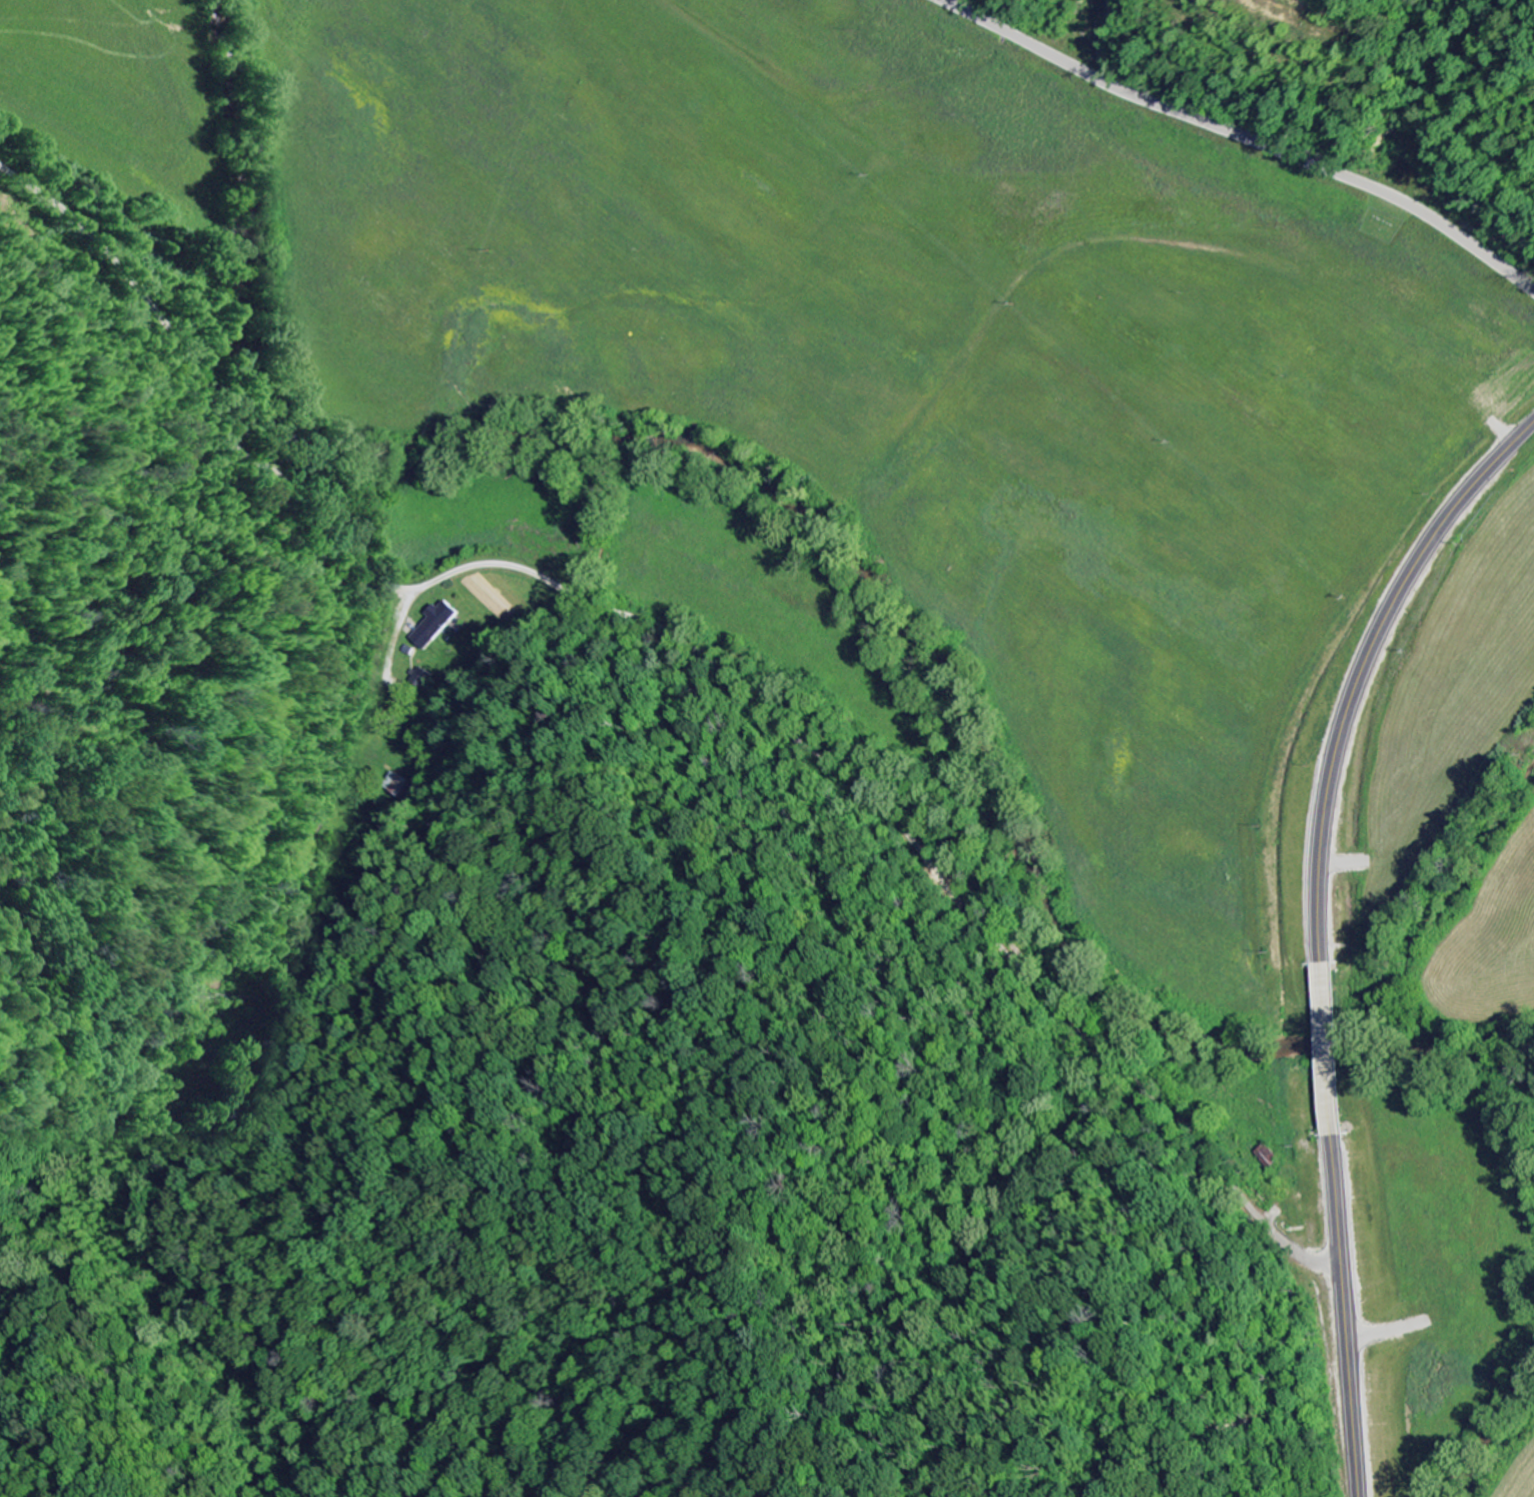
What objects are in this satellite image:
road: (1244, 136)
building: (435, 625)
road: (698, 642)
building: (420, 680)
road: (382, 686)
building: (396, 787)
road: (1316, 931)

